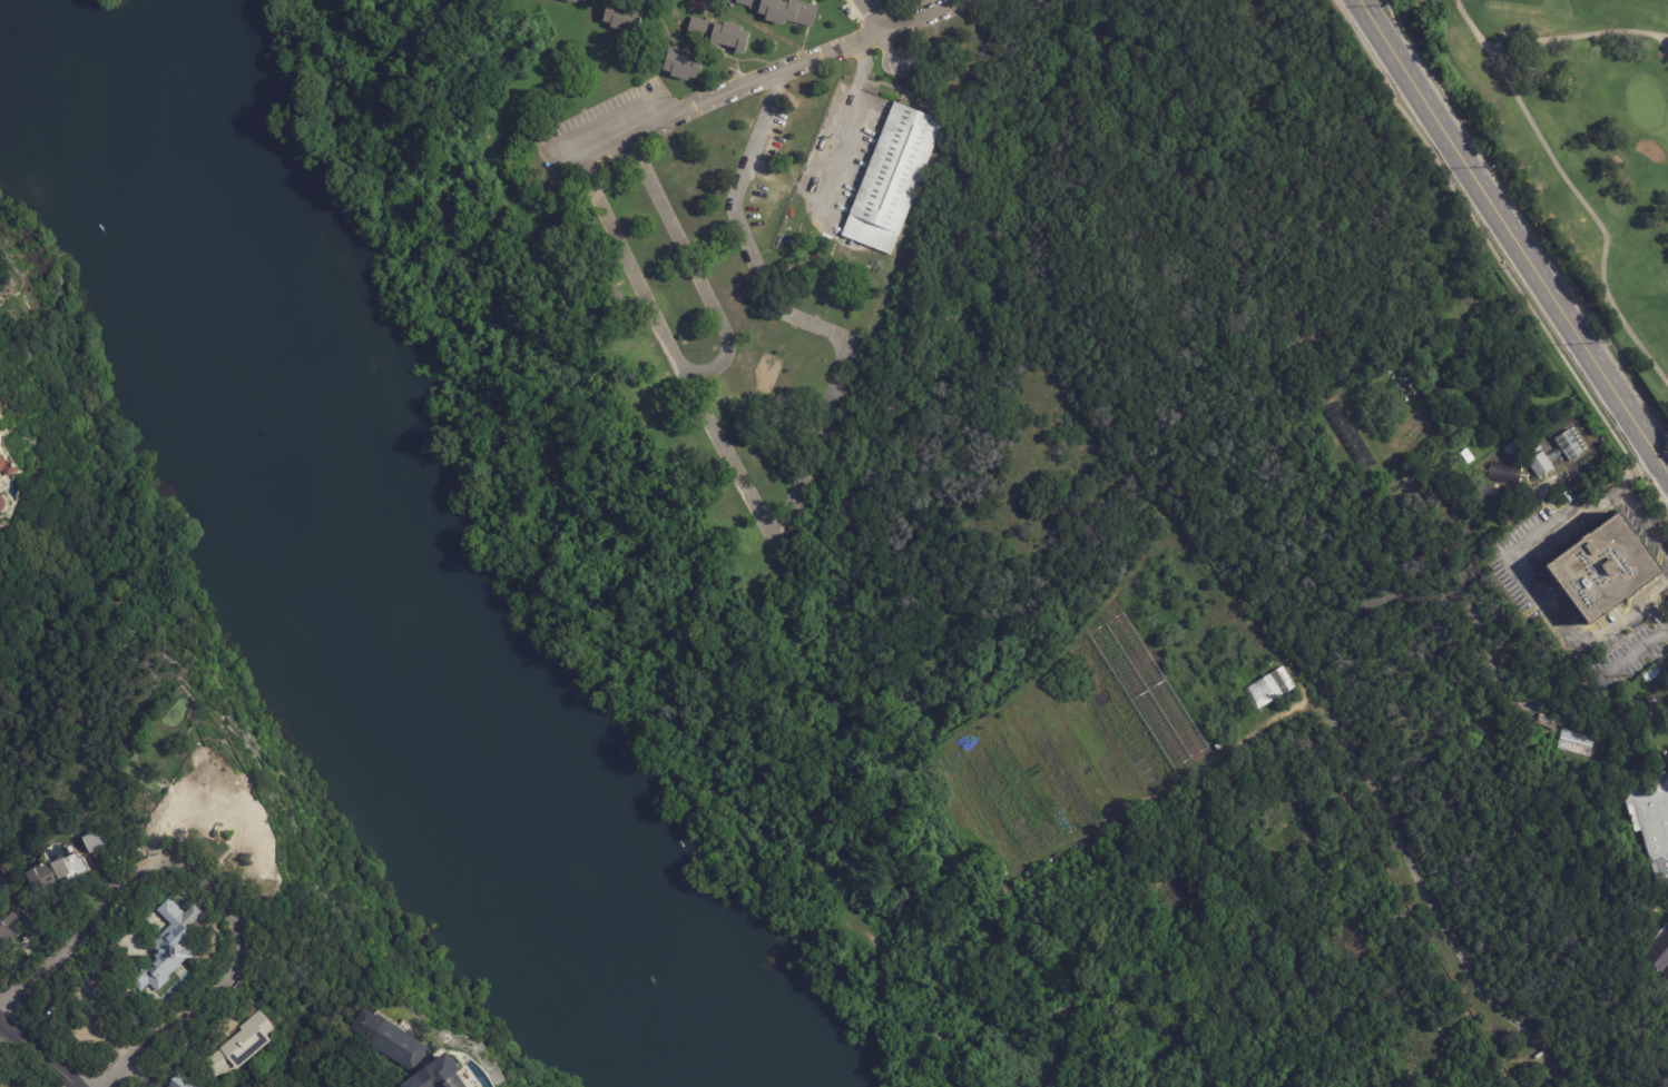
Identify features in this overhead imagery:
building: (671, 0)
building: (683, 0)
building: (575, 1)
park: (106, 2)
building: (784, 10)
road: (874, 14)
road: (922, 16)
building: (622, 17)
building: (719, 34)
road: (1574, 36)
road: (1667, 37)
road: (1666, 46)
building: (684, 65)
road: (781, 71)
park: (1645, 106)
road: (848, 123)
road: (624, 127)
park: (1577, 138)
building: (892, 177)
road: (1573, 190)
road: (1512, 237)
road: (689, 260)
building: (1, 437)
building: (1559, 452)
building: (8, 465)
building: (1505, 473)
road: (797, 485)
building: (2, 504)
road: (1644, 526)
building: (1606, 570)
road: (1534, 577)
river: (337, 594)
road: (1656, 616)
road: (1667, 632)
road: (1637, 653)
building: (1656, 672)
building: (1276, 684)
building: (1149, 691)
building: (1544, 720)
building: (1577, 742)
building: (1219, 747)
building: (213, 767)
building: (234, 821)
building: (1652, 821)
building: (92, 841)
building: (1083, 843)
building: (56, 871)
building: (1033, 872)
building: (1020, 881)
building: (1007, 889)
road: (100, 905)
building: (8, 927)
building: (168, 948)
building: (1659, 955)
road: (92, 1001)
road: (196, 1002)
building: (386, 1040)
building: (239, 1042)
road: (37, 1055)
building: (438, 1075)
building: (180, 1081)

